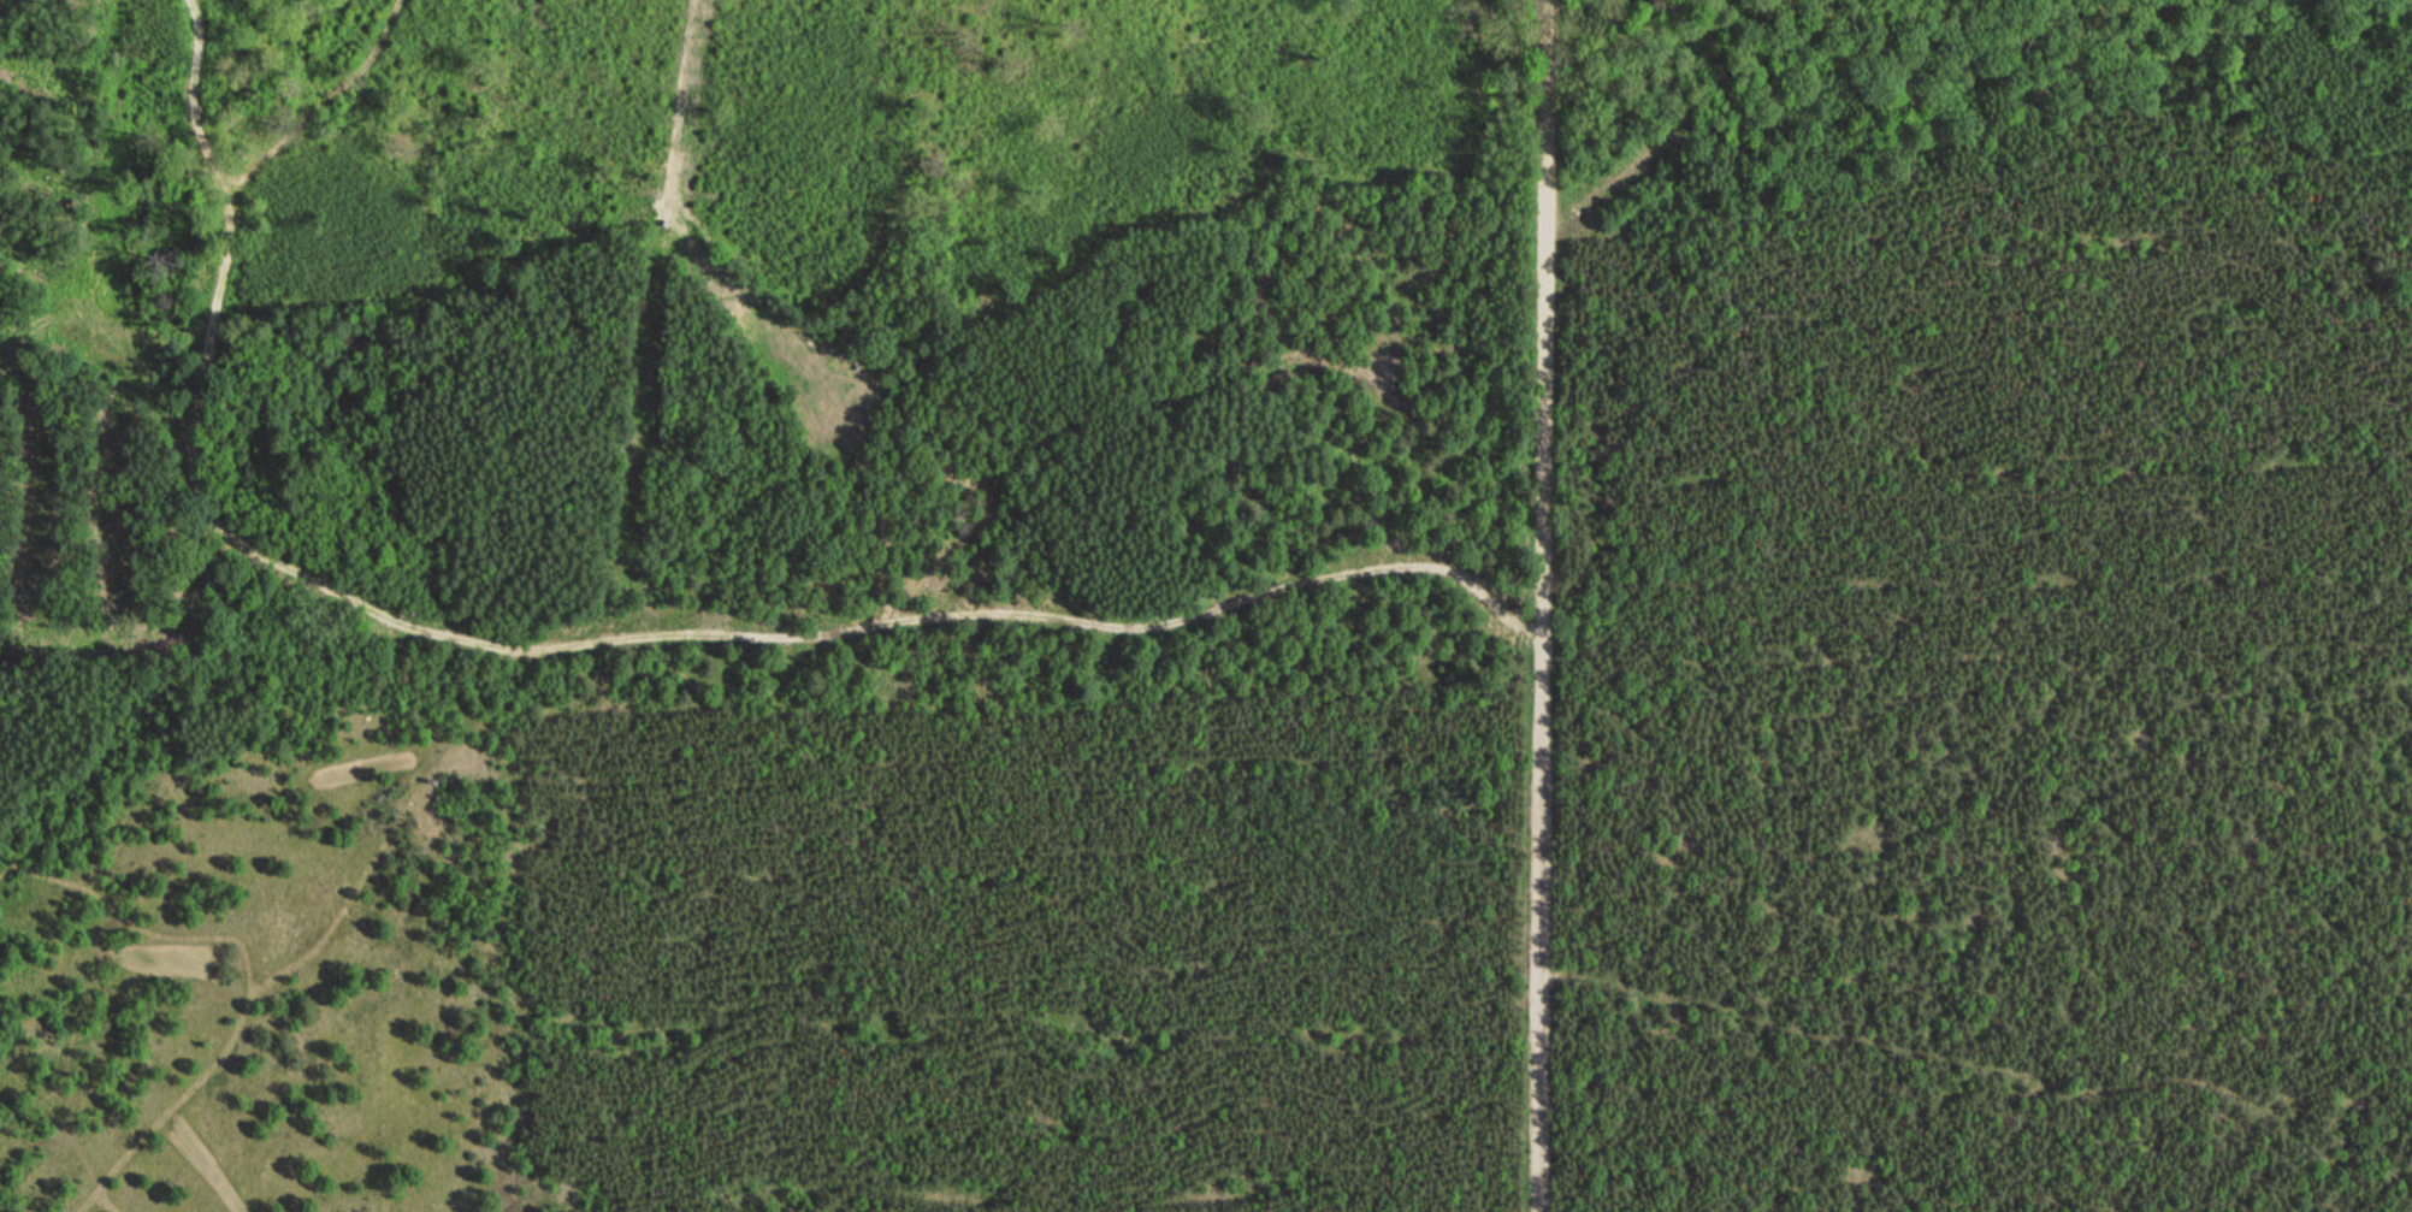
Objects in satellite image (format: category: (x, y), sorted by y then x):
road: (1539, 605)

